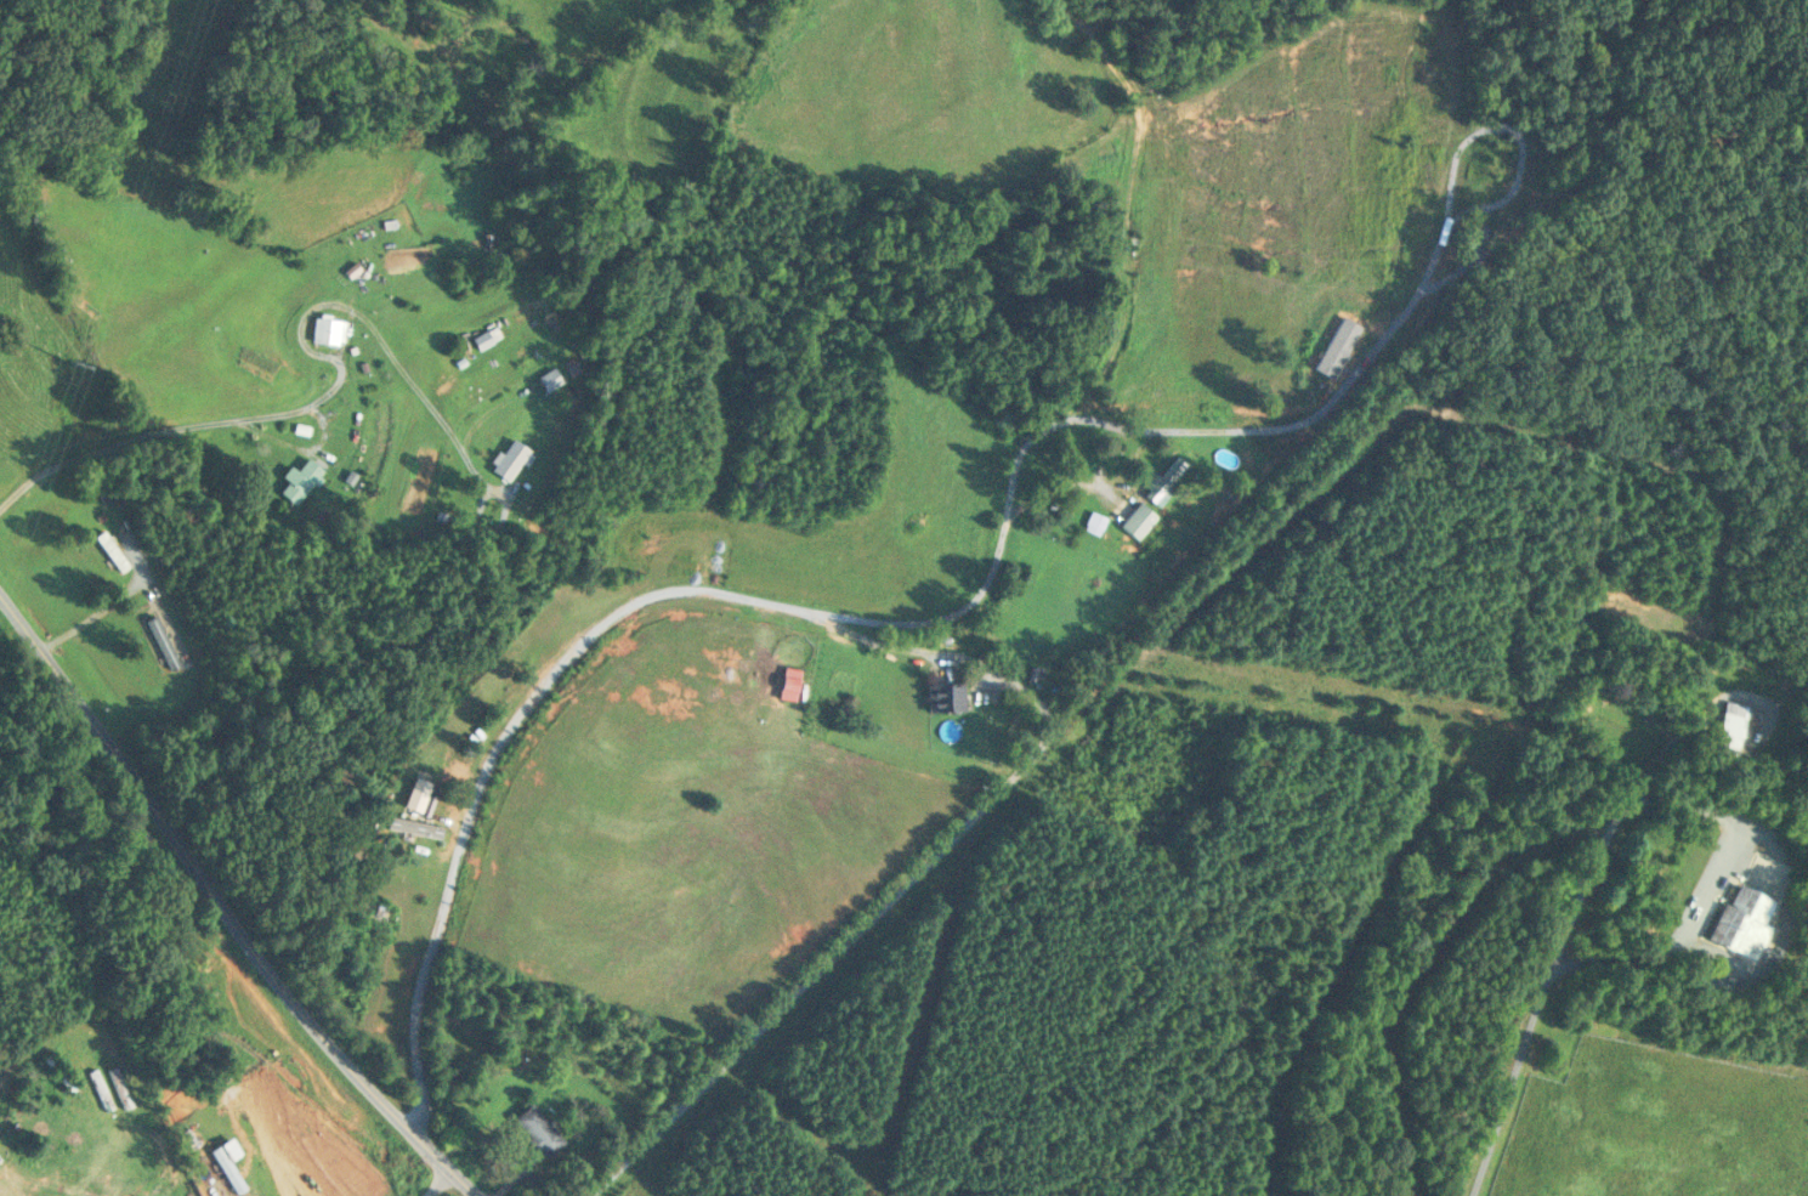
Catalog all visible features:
building: (1503, 168)
building: (482, 244)
building: (328, 329)
building: (482, 340)
road: (341, 372)
building: (550, 378)
road: (1104, 457)
building: (509, 458)
building: (300, 478)
road: (1064, 487)
building: (1138, 520)
building: (1094, 522)
building: (110, 549)
road: (648, 596)
building: (161, 641)
building: (945, 696)
building: (1732, 722)
road: (1717, 815)
road: (923, 866)
road: (223, 907)
building: (379, 909)
building: (1744, 920)
building: (59, 1072)
road: (1513, 1081)
building: (538, 1129)
road: (52, 1154)
road: (440, 1179)

